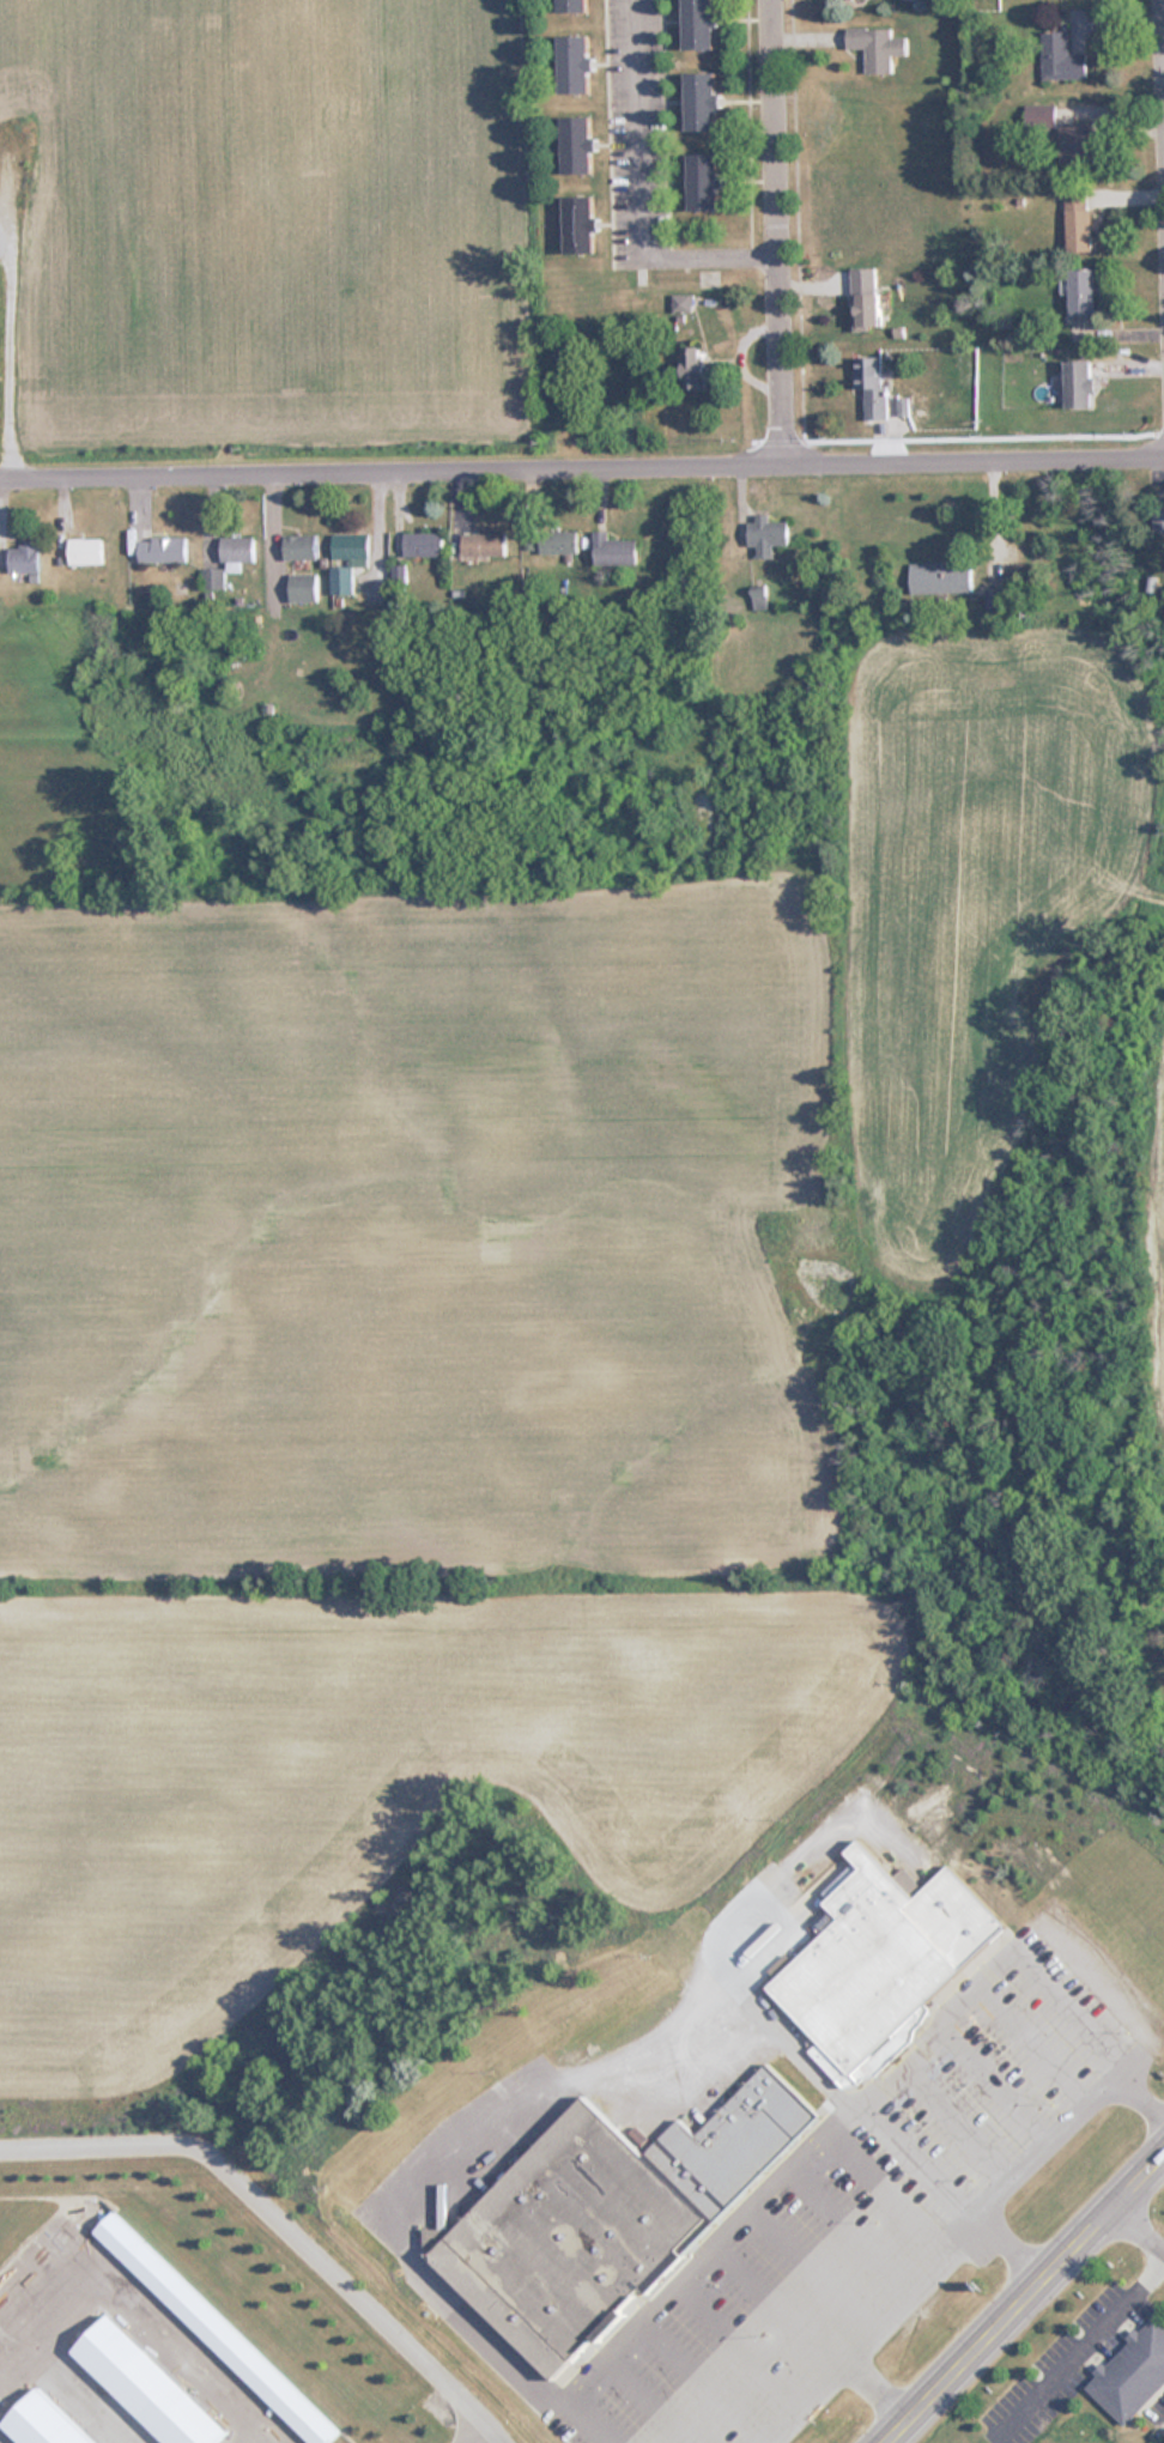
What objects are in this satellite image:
building: (571, 5)
building: (701, 23)
building: (877, 47)
building: (1060, 57)
building: (575, 62)
building: (702, 101)
building: (1041, 117)
building: (577, 144)
building: (1078, 144)
building: (704, 182)
road: (638, 189)
building: (1077, 218)
building: (578, 224)
road: (772, 234)
building: (1081, 291)
building: (866, 296)
building: (681, 302)
building: (693, 366)
building: (1079, 383)
building: (872, 384)
road: (582, 472)
building: (1158, 520)
building: (768, 535)
building: (559, 541)
building: (424, 544)
building: (484, 544)
building: (351, 546)
building: (301, 547)
building: (163, 548)
building: (237, 548)
building: (614, 550)
building: (86, 551)
building: (25, 557)
building: (940, 577)
building: (214, 578)
building: (342, 580)
building: (304, 587)
building: (994, 599)
building: (322, 710)
road: (1036, 1929)
building: (884, 1963)
road: (1087, 2037)
road: (947, 2192)
building: (606, 2218)
road: (280, 2223)
road: (1138, 2227)
road: (1021, 2292)
road: (152, 2314)
building: (214, 2329)
road: (812, 2333)
building: (1130, 2371)
building: (145, 2384)
building: (42, 2421)
road: (468, 2432)

